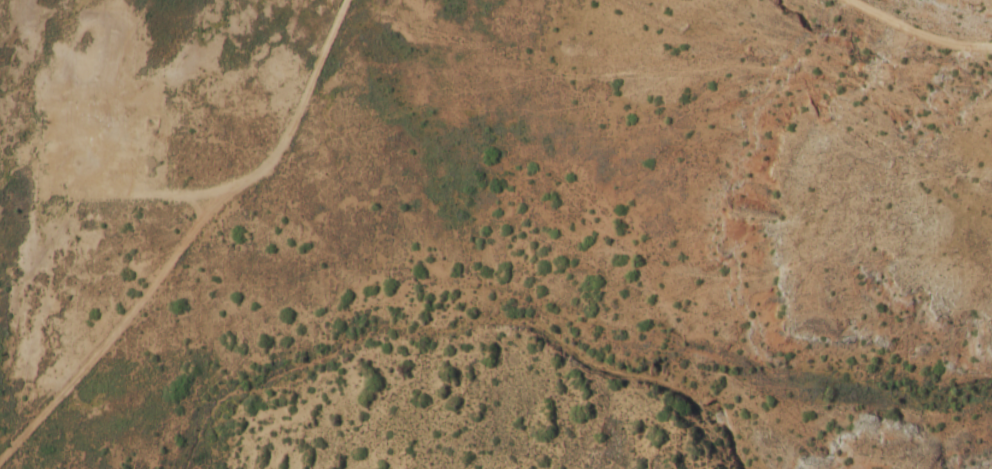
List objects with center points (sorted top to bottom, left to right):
road: (892, 42)
road: (282, 159)
road: (101, 310)

